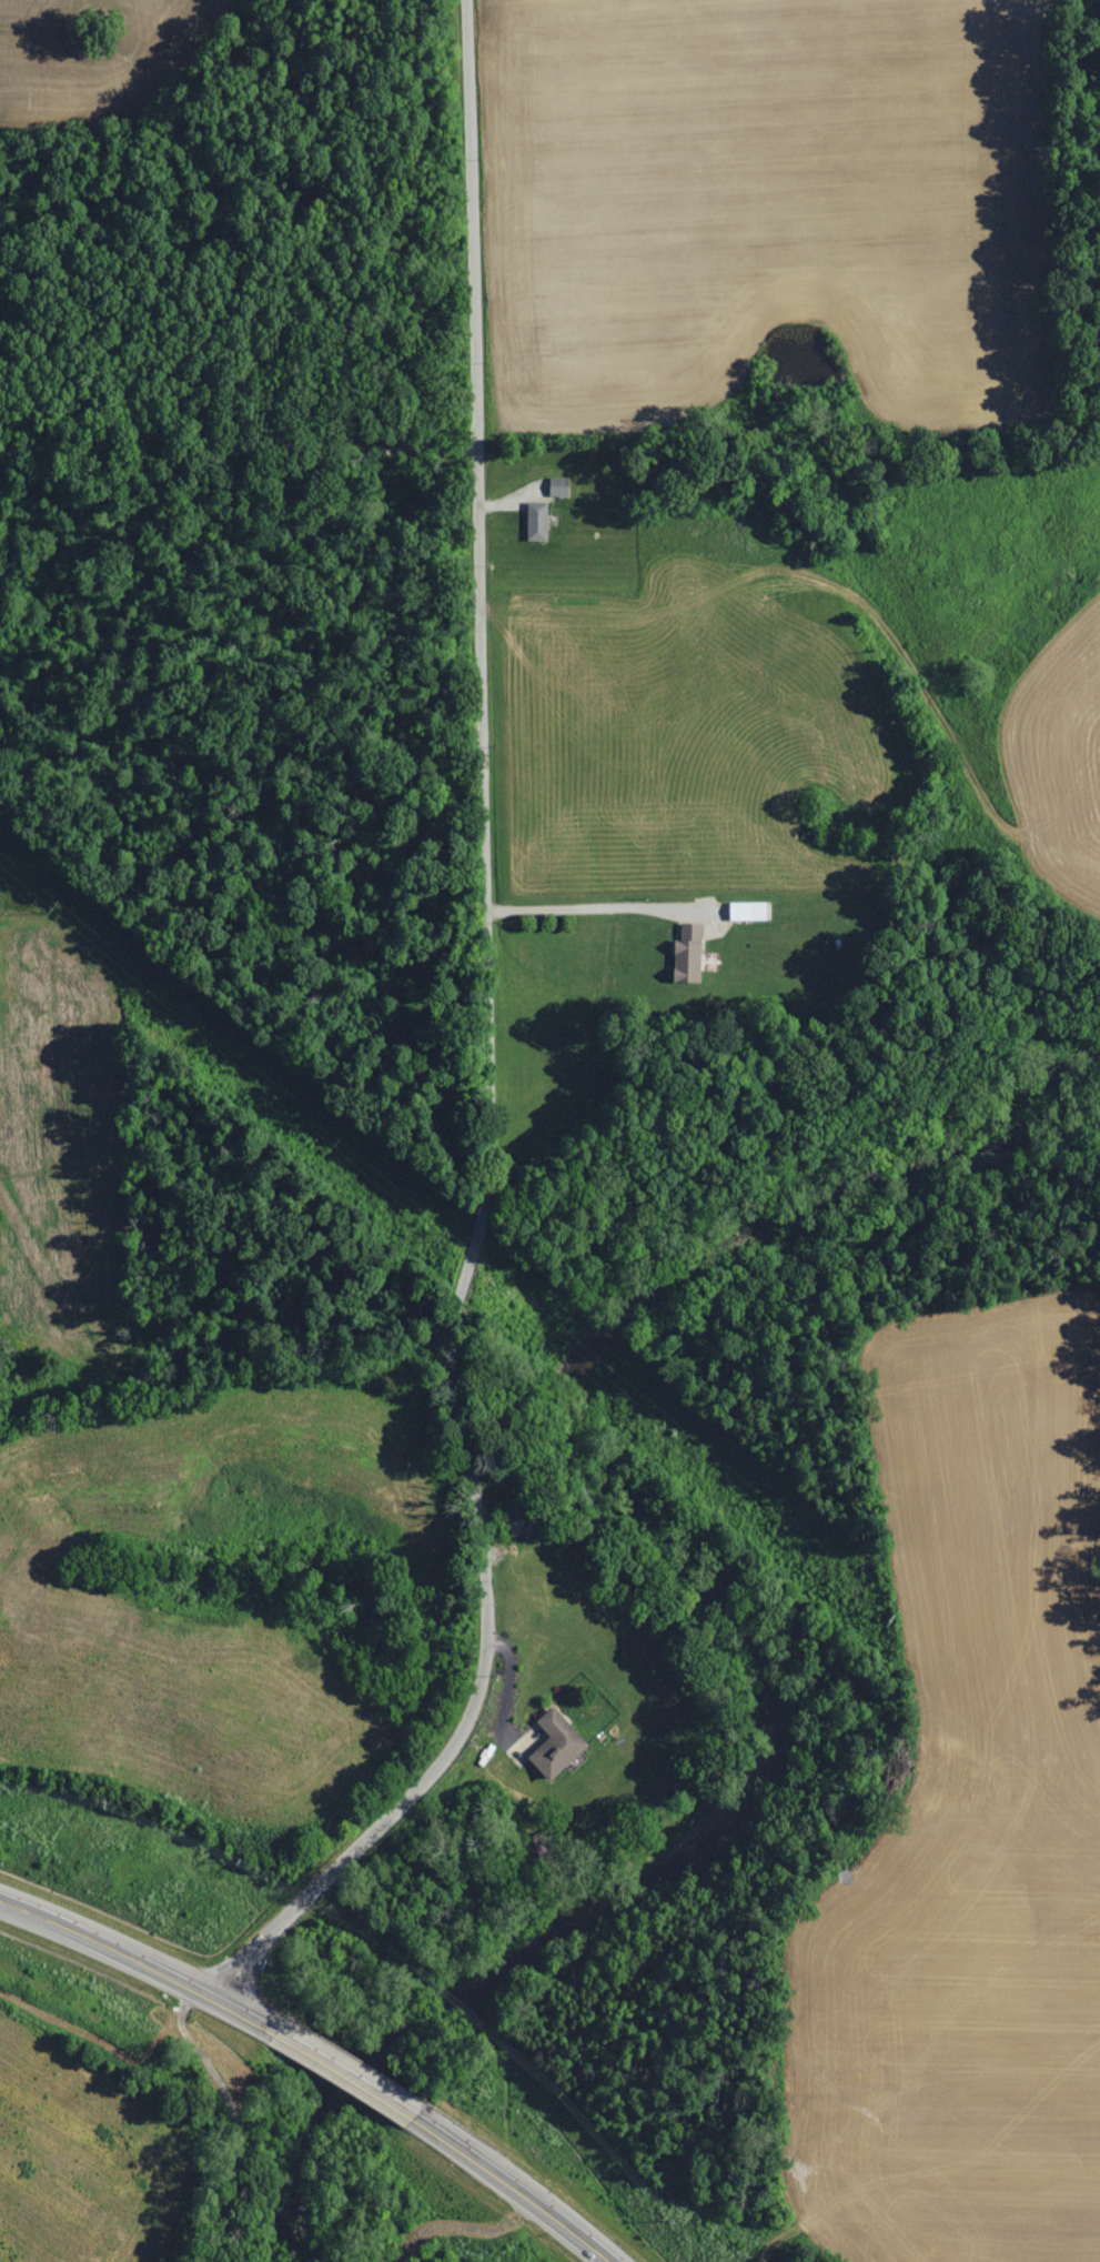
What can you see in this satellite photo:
road: (236, 448)
building: (559, 486)
building: (537, 522)
road: (599, 907)
building: (748, 909)
building: (688, 953)
road: (485, 1050)
river: (703, 1586)
road: (144, 1953)
road: (350, 2069)
road: (239, 2114)
road: (516, 2184)

